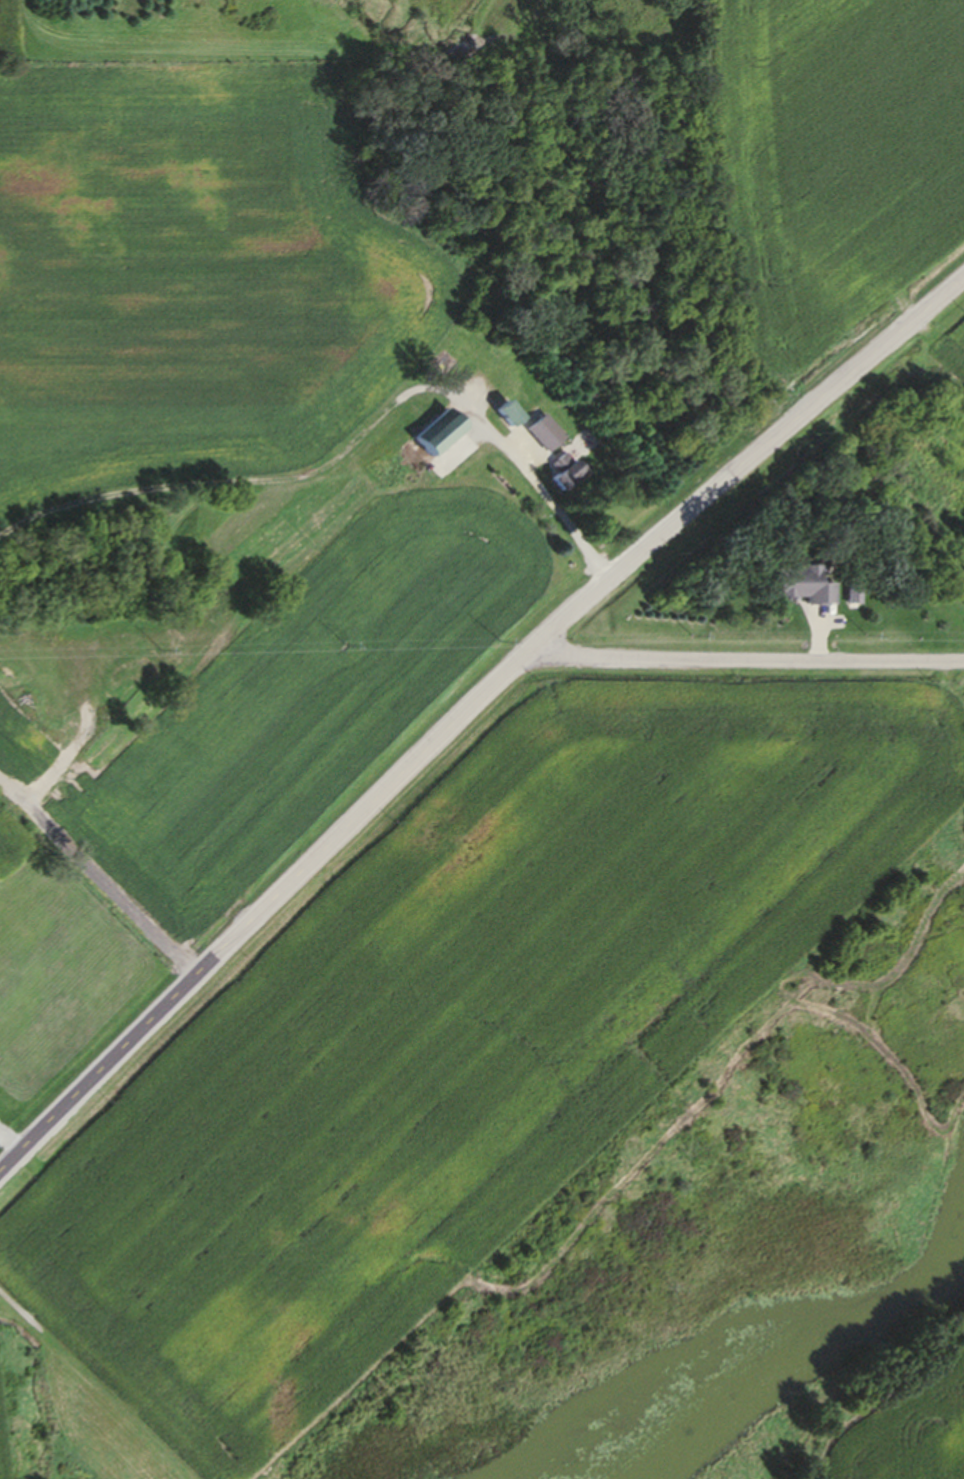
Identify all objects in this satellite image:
building: (502, 416)
building: (540, 436)
building: (432, 438)
building: (559, 475)
road: (534, 481)
building: (797, 589)
road: (748, 661)
road: (469, 711)
road: (10, 1143)
river: (783, 1376)

